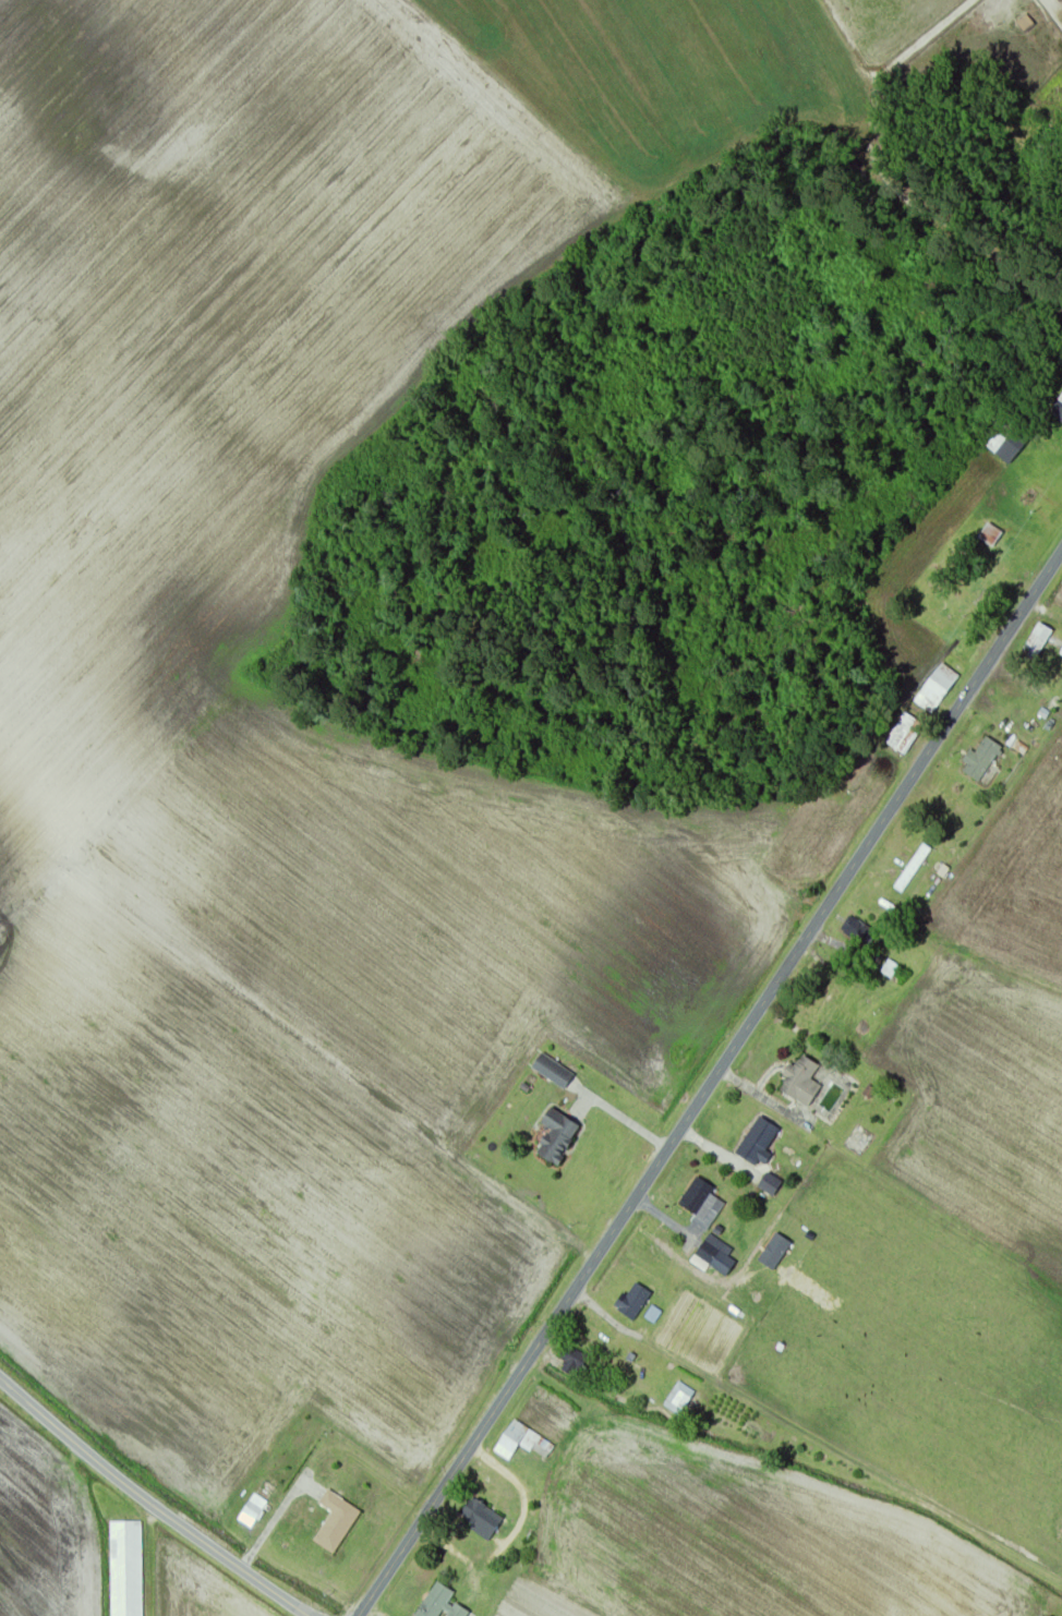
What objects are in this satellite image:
building: (1025, 23)
building: (1058, 409)
building: (1007, 444)
building: (991, 535)
road: (1042, 607)
building: (1037, 643)
building: (966, 652)
building: (1061, 654)
building: (937, 690)
building: (905, 735)
building: (980, 762)
road: (831, 928)
building: (859, 933)
road: (703, 1075)
building: (800, 1083)
road: (760, 1093)
building: (557, 1137)
building: (758, 1143)
road: (710, 1146)
building: (770, 1185)
building: (700, 1199)
road: (660, 1239)
road: (683, 1251)
building: (707, 1252)
building: (633, 1301)
road: (599, 1311)
building: (571, 1362)
building: (679, 1399)
building: (522, 1443)
road: (516, 1485)
road: (153, 1502)
building: (336, 1521)
building: (483, 1521)
road: (467, 1556)
building: (126, 1568)
building: (441, 1603)
road: (378, 1609)

